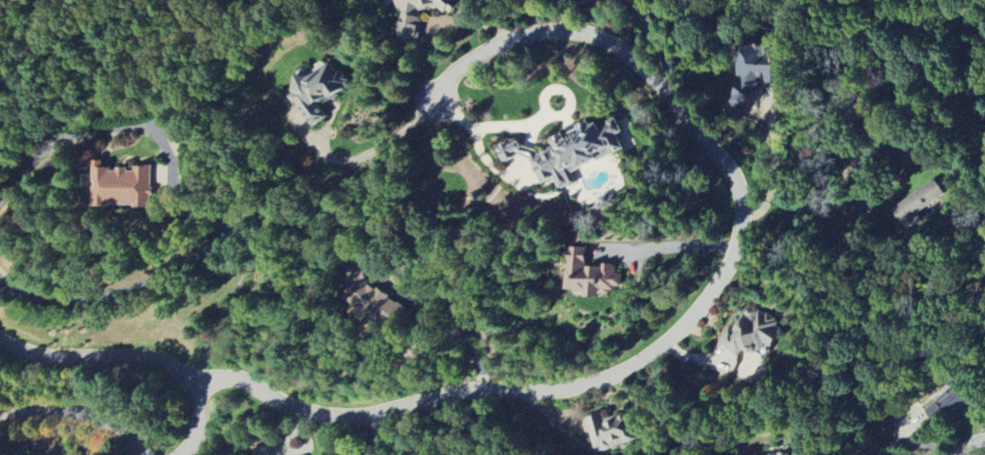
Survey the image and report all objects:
road: (662, 47)
road: (845, 58)
building: (313, 91)
road: (532, 132)
road: (379, 149)
building: (570, 149)
road: (775, 169)
building: (120, 186)
building: (917, 206)
road: (200, 211)
road: (674, 245)
building: (589, 276)
building: (371, 299)
road: (696, 311)
road: (438, 321)
building: (753, 333)
road: (97, 356)
building: (951, 402)
road: (77, 413)
road: (195, 420)
building: (610, 431)
road: (971, 445)
building: (260, 447)
building: (802, 454)

